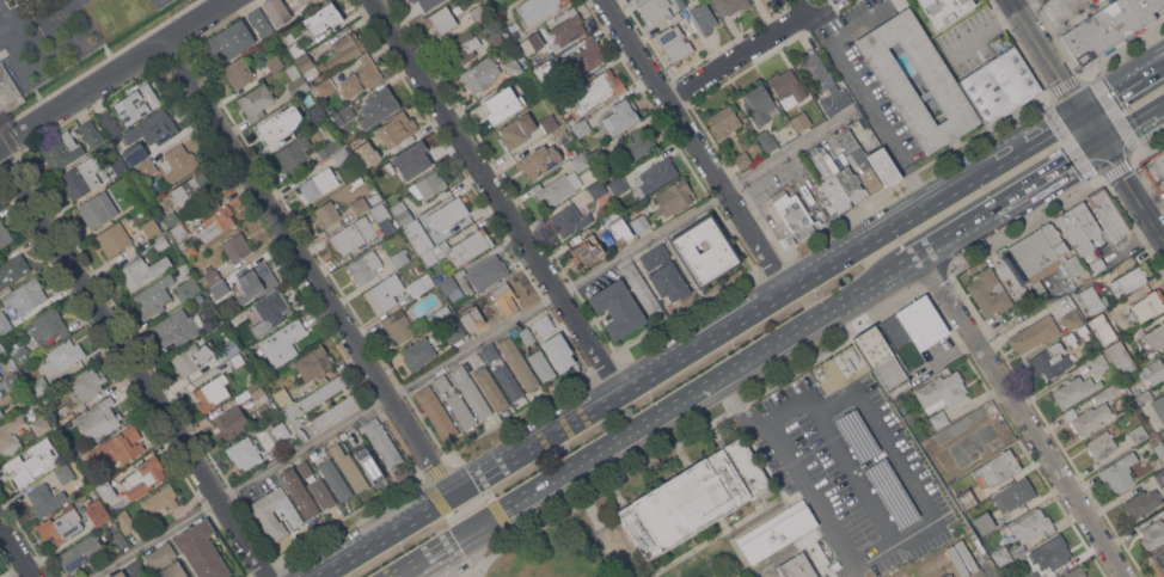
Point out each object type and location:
building: (317, 0)
building: (302, 1)
building: (421, 2)
building: (681, 2)
building: (730, 6)
road: (1028, 6)
building: (538, 8)
building: (653, 8)
building: (944, 8)
building: (1147, 10)
building: (276, 11)
building: (480, 11)
building: (326, 14)
building: (675, 17)
building: (704, 17)
building: (441, 19)
building: (261, 22)
building: (1102, 32)
building: (555, 33)
road: (982, 33)
building: (495, 39)
building: (229, 41)
road: (1059, 42)
building: (674, 43)
building: (462, 47)
road: (1125, 48)
building: (295, 49)
building: (344, 49)
road: (1021, 53)
road: (740, 55)
building: (584, 57)
building: (274, 62)
building: (307, 66)
building: (511, 68)
building: (545, 70)
building: (238, 72)
road: (112, 73)
building: (482, 74)
building: (360, 76)
building: (296, 80)
building: (825, 82)
building: (941, 84)
building: (1000, 85)
building: (324, 87)
building: (786, 87)
road: (1122, 87)
building: (543, 90)
building: (596, 90)
road: (862, 93)
building: (532, 96)
building: (256, 100)
building: (137, 103)
building: (495, 105)
building: (760, 105)
building: (378, 106)
building: (314, 111)
traffic signals: (1083, 113)
building: (343, 115)
building: (566, 116)
building: (621, 116)
building: (724, 121)
building: (801, 121)
road: (1086, 121)
building: (109, 122)
building: (549, 122)
road: (1133, 125)
building: (153, 128)
building: (272, 128)
building: (581, 128)
building: (396, 129)
building: (516, 130)
building: (91, 133)
building: (563, 134)
building: (767, 140)
building: (637, 145)
traffic signals: (1102, 145)
building: (331, 146)
road: (696, 146)
road: (1153, 149)
building: (1162, 149)
building: (62, 151)
building: (294, 153)
building: (342, 154)
road: (1132, 154)
building: (135, 155)
building: (366, 155)
building: (598, 156)
building: (413, 158)
building: (578, 159)
building: (742, 159)
building: (859, 159)
building: (538, 160)
building: (177, 162)
building: (120, 165)
building: (883, 165)
building: (145, 168)
building: (1154, 168)
building: (657, 174)
road: (1144, 176)
building: (84, 177)
building: (320, 182)
building: (838, 182)
building: (428, 184)
building: (618, 185)
building: (190, 188)
building: (385, 189)
building: (557, 189)
building: (598, 189)
building: (674, 196)
road: (496, 197)
building: (157, 201)
road: (1003, 204)
building: (359, 207)
building: (97, 209)
building: (402, 211)
building: (1108, 211)
building: (448, 213)
building: (327, 214)
building: (797, 217)
building: (170, 219)
building: (569, 219)
building: (617, 219)
building: (216, 221)
building: (639, 223)
road: (1129, 223)
building: (390, 226)
building: (1080, 227)
building: (151, 228)
building: (359, 231)
building: (178, 232)
building: (4, 235)
building: (418, 237)
building: (114, 238)
building: (160, 243)
building: (237, 246)
building: (468, 246)
building: (704, 250)
building: (190, 251)
building: (588, 251)
building: (399, 257)
building: (429, 257)
building: (1044, 257)
building: (1096, 264)
building: (364, 266)
building: (12, 269)
building: (183, 269)
road: (308, 269)
building: (142, 270)
building: (488, 272)
building: (664, 272)
building: (212, 274)
building: (1015, 275)
building: (1129, 275)
building: (427, 282)
building: (253, 283)
building: (448, 284)
building: (219, 288)
building: (416, 288)
building: (642, 288)
building: (186, 289)
building: (979, 290)
building: (384, 293)
building: (25, 295)
building: (154, 295)
building: (503, 299)
building: (1092, 299)
building: (1145, 307)
building: (617, 308)
building: (268, 313)
building: (1072, 319)
building: (471, 320)
building: (544, 323)
building: (5, 324)
building: (48, 325)
building: (403, 325)
building: (176, 327)
building: (1103, 327)
building: (455, 332)
building: (913, 332)
building: (1034, 333)
building: (527, 334)
building: (1156, 337)
building: (282, 342)
road: (472, 344)
road: (702, 345)
building: (875, 345)
building: (229, 349)
building: (490, 351)
building: (558, 351)
building: (418, 352)
building: (1163, 352)
building: (20, 354)
building: (62, 356)
building: (190, 357)
building: (7, 358)
building: (1121, 358)
building: (237, 361)
building: (1049, 361)
building: (1098, 362)
building: (313, 363)
building: (519, 363)
building: (541, 364)
road: (133, 367)
building: (869, 370)
building: (1153, 372)
building: (0, 376)
building: (889, 377)
building: (13, 380)
building: (508, 381)
building: (87, 382)
building: (441, 382)
building: (39, 385)
building: (490, 387)
building: (1074, 389)
building: (941, 391)
building: (212, 392)
building: (323, 392)
building: (471, 392)
building: (1105, 392)
building: (258, 394)
building: (283, 398)
building: (1159, 406)
building: (461, 410)
building: (335, 411)
building: (436, 412)
building: (1, 413)
road: (658, 413)
road: (1024, 415)
building: (63, 417)
building: (294, 418)
building: (938, 418)
building: (1088, 418)
building: (99, 419)
building: (228, 423)
building: (41, 425)
building: (957, 426)
building: (281, 430)
building: (1138, 432)
building: (11, 435)
building: (382, 442)
building: (970, 444)
building: (1101, 444)
building: (116, 448)
building: (1159, 449)
building: (244, 452)
road: (896, 459)
building: (29, 462)
building: (369, 465)
building: (348, 467)
building: (997, 468)
building: (305, 469)
building: (63, 472)
building: (1119, 472)
building: (1160, 477)
building: (143, 478)
building: (335, 479)
building: (105, 491)
building: (299, 492)
building: (321, 492)
building: (1013, 495)
building: (694, 498)
building: (966, 498)
building: (45, 499)
building: (160, 499)
building: (1142, 502)
building: (97, 511)
building: (264, 514)
building: (125, 522)
building: (982, 522)
building: (35, 523)
building: (991, 523)
building: (61, 524)
building: (1033, 524)
building: (778, 533)
building: (1153, 534)
building: (120, 538)
building: (201, 550)
road: (16, 551)
building: (1055, 551)
building: (79, 552)
building: (1001, 555)
building: (962, 558)
building: (1158, 560)
building: (165, 561)
building: (945, 564)
road: (872, 565)
building: (797, 566)
building: (135, 567)
building: (927, 569)
road: (402, 570)
building: (1076, 572)
building: (118, 573)
building: (894, 573)
building: (1034, 573)
building: (822, 576)

